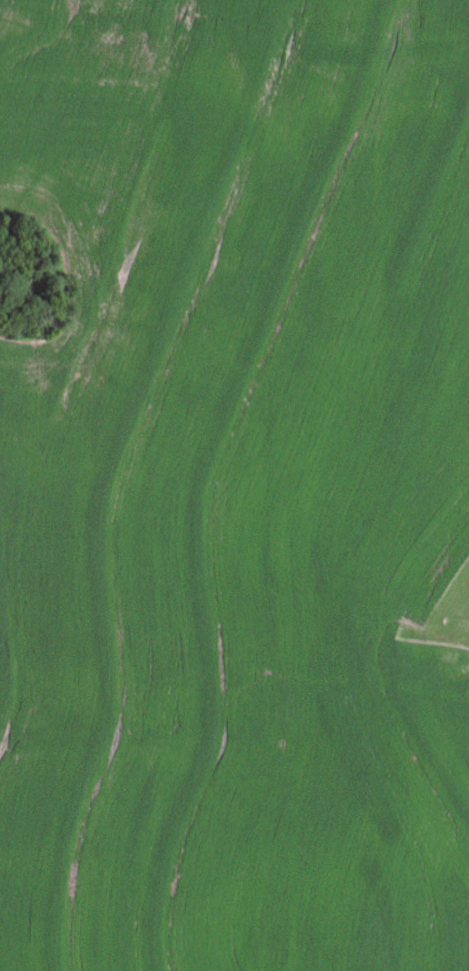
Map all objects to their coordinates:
crop: (235, 486)

